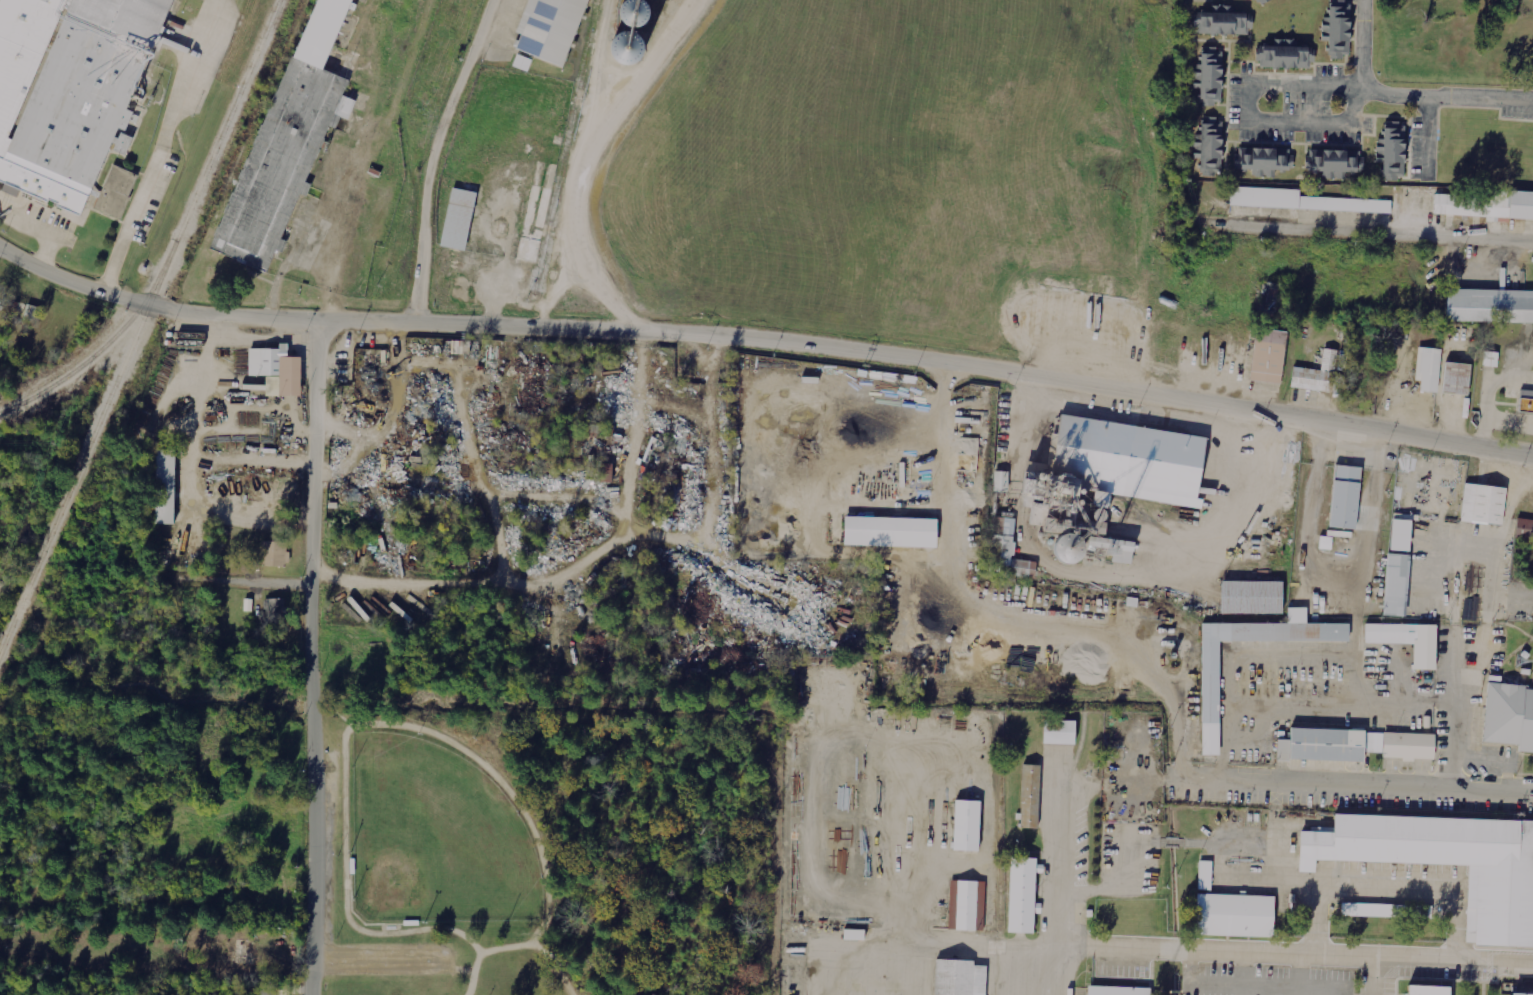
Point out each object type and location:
building: (178, 0)
building: (1253, 1)
building: (1259, 1)
building: (1224, 24)
building: (547, 29)
building: (1339, 31)
building: (630, 36)
railway: (160, 41)
building: (1285, 57)
building: (522, 63)
building: (1210, 78)
building: (70, 90)
road: (1405, 94)
road: (1248, 111)
building: (289, 139)
road: (160, 147)
building: (1211, 148)
railway: (563, 149)
building: (1393, 153)
building: (1261, 162)
building: (1333, 164)
road: (433, 165)
building: (117, 191)
building: (1301, 201)
building: (1509, 206)
road: (43, 224)
road: (1368, 232)
building: (454, 239)
building: (1271, 296)
building: (1489, 308)
railway: (139, 326)
road: (764, 330)
railway: (100, 349)
building: (1267, 358)
building: (277, 370)
building: (1426, 370)
building: (1316, 375)
building: (1456, 381)
building: (251, 384)
road: (1491, 392)
building: (1520, 400)
building: (606, 473)
building: (1110, 473)
building: (1001, 481)
building: (164, 487)
building: (1343, 498)
building: (1482, 507)
building: (890, 531)
building: (1523, 531)
building: (1400, 535)
building: (1325, 543)
building: (1065, 548)
building: (1112, 548)
building: (1007, 550)
building: (275, 554)
road: (394, 579)
building: (1395, 586)
building: (1250, 599)
building: (1473, 608)
building: (276, 611)
building: (1384, 635)
road: (313, 654)
building: (1208, 700)
building: (1509, 719)
building: (1058, 734)
building: (1352, 747)
road: (1359, 774)
building: (1029, 799)
building: (965, 828)
park: (434, 835)
park: (546, 849)
building: (1205, 875)
building: (1021, 898)
building: (964, 907)
building: (1366, 910)
building: (1498, 910)
building: (1234, 915)
road: (516, 943)
road: (1246, 950)
building: (957, 979)
building: (269, 990)
building: (1426, 990)
building: (1116, 992)
building: (1519, 994)

